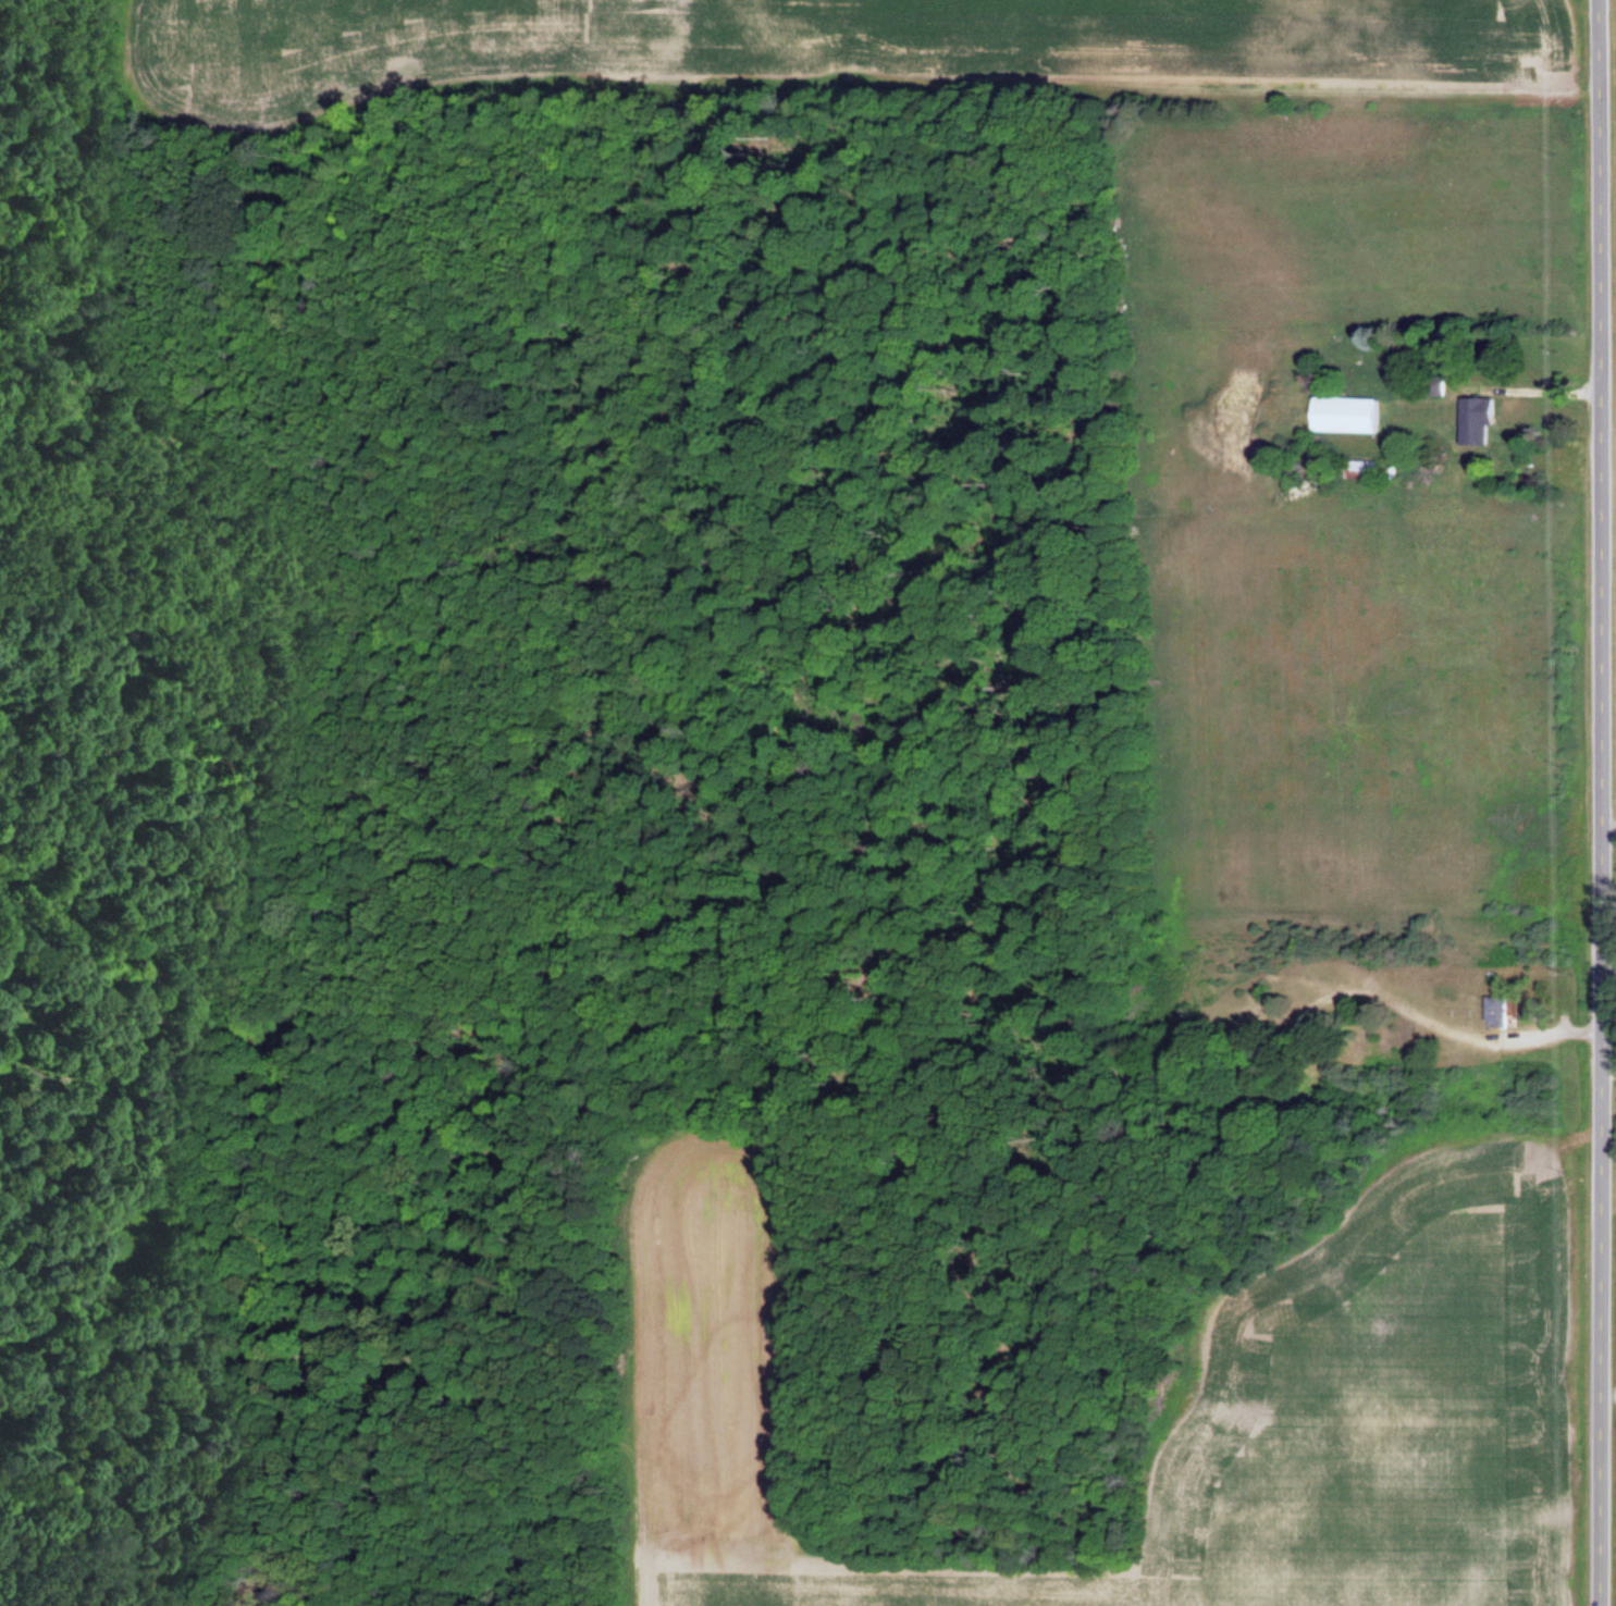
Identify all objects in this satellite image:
building: (1515, 412)
building: (1355, 415)
building: (1369, 468)
road: (1578, 803)
building: (1504, 1012)

